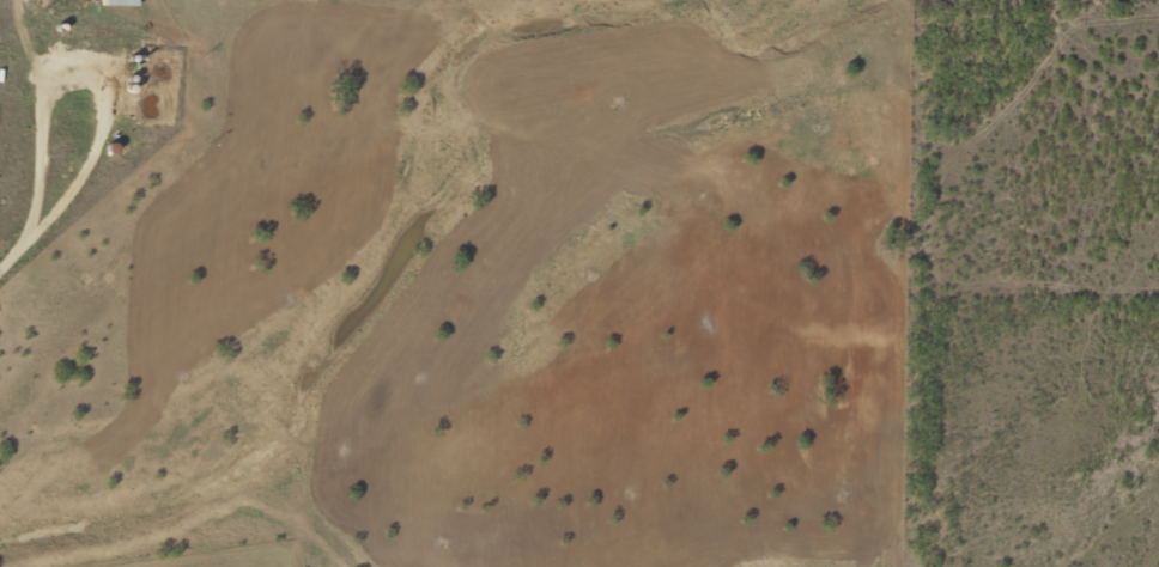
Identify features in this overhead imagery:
building: (114, 2)

